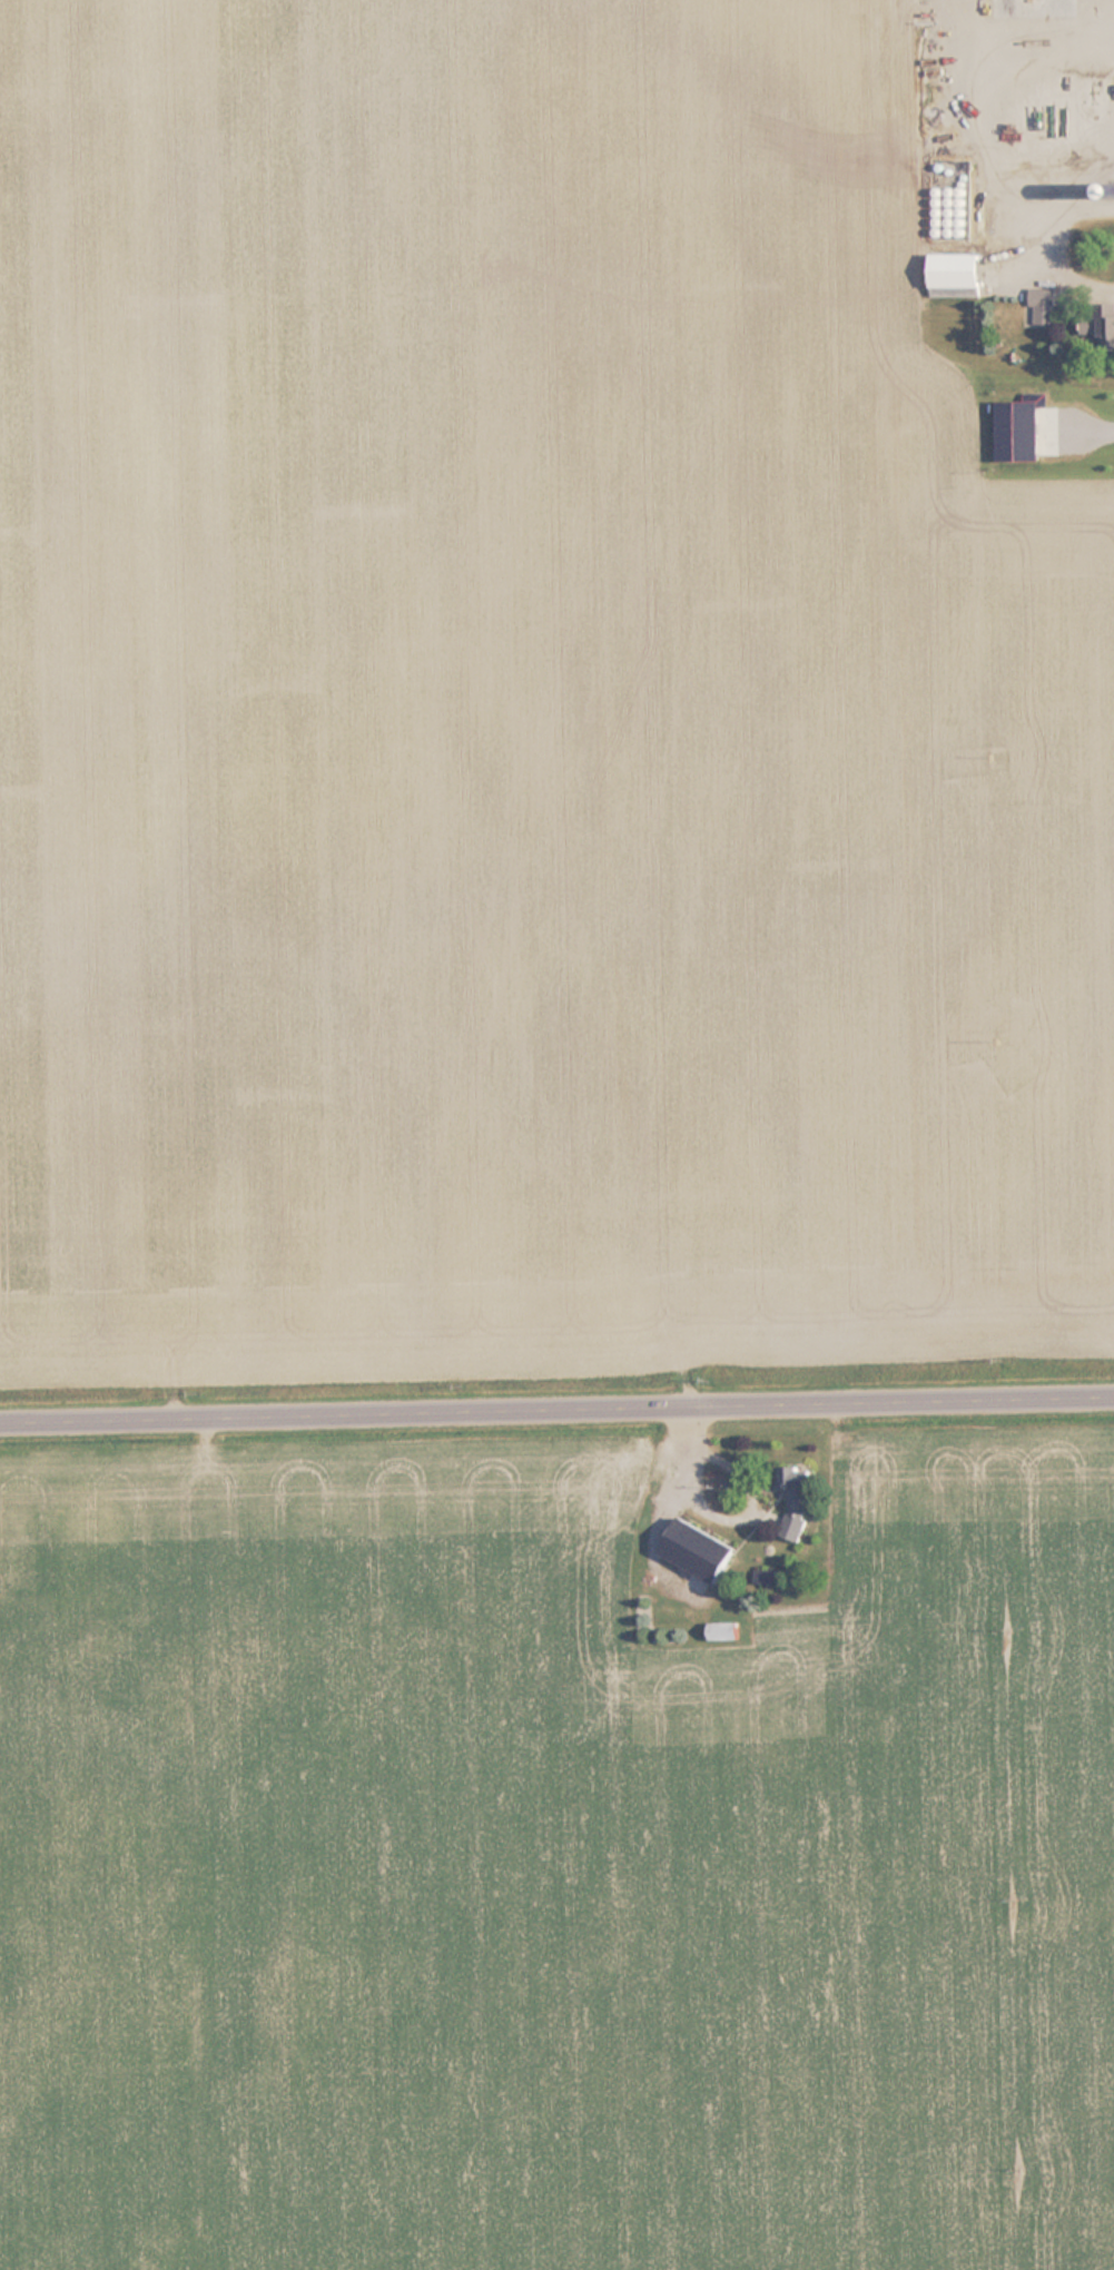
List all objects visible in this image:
building: (1080, 65)
building: (1046, 147)
building: (948, 213)
building: (956, 275)
building: (1044, 306)
building: (1110, 324)
road: (556, 1408)
building: (795, 1484)
building: (792, 1526)
building: (698, 1550)

